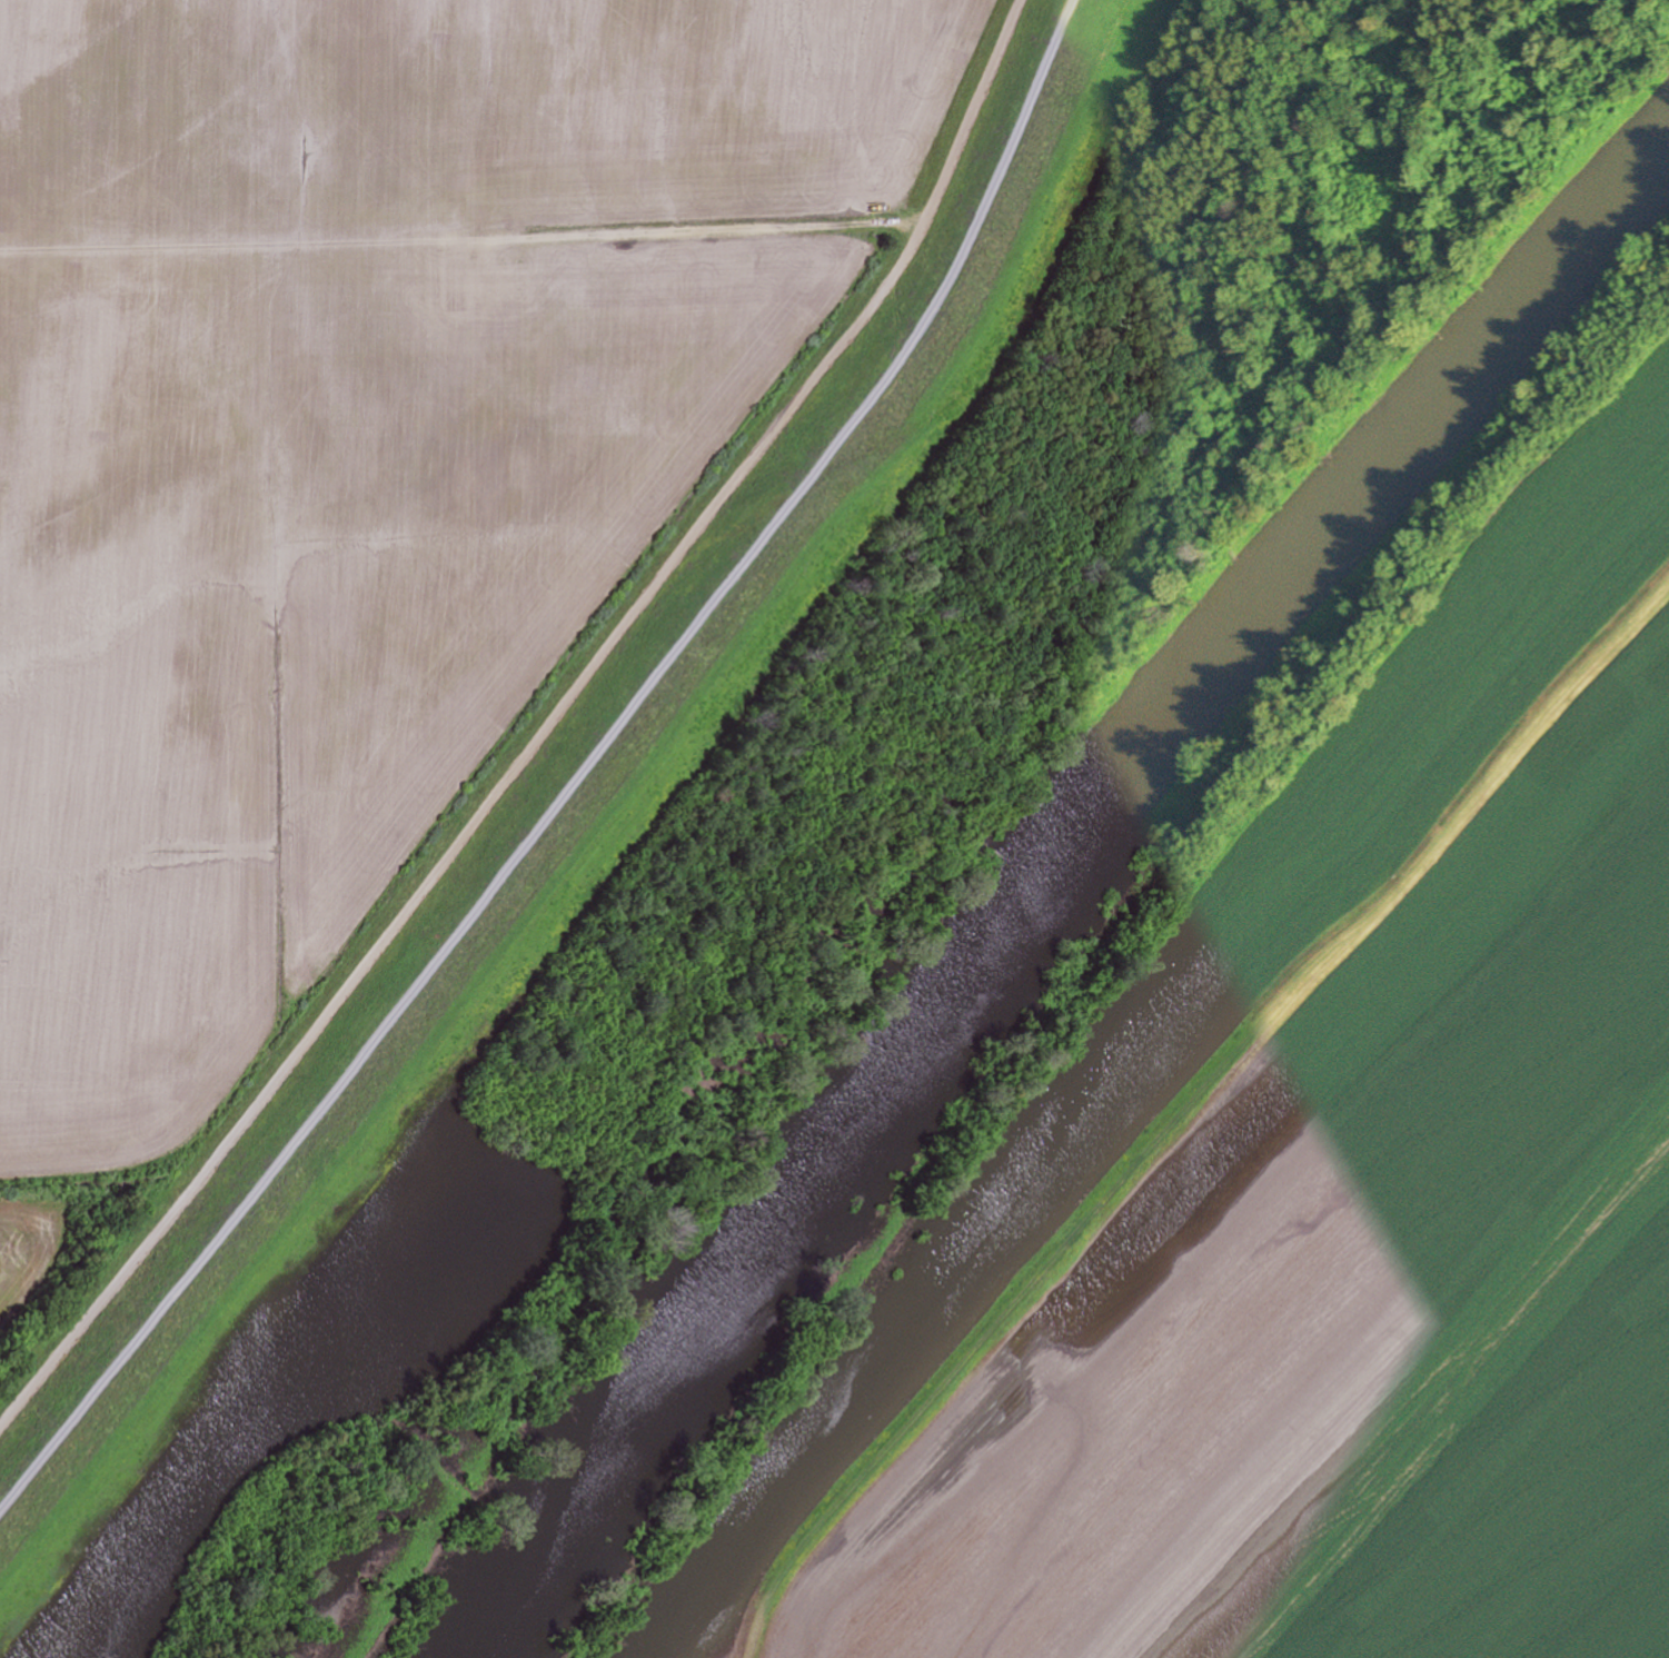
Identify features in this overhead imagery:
road: (544, 734)
road: (576, 777)
river: (1049, 883)

